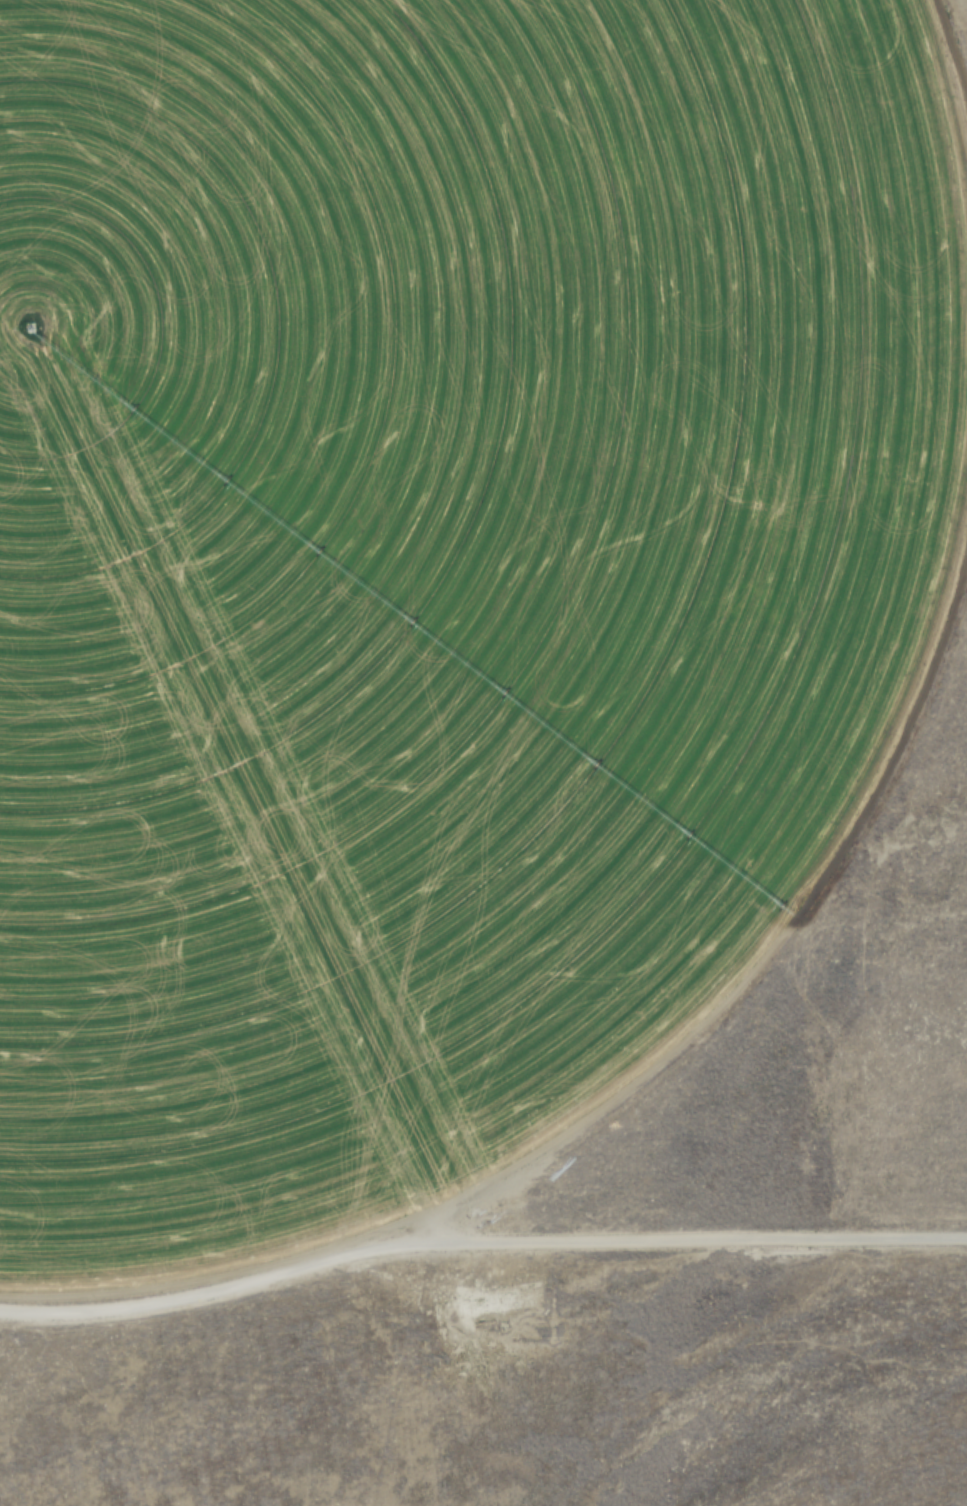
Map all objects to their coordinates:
crop: (425, 555)

